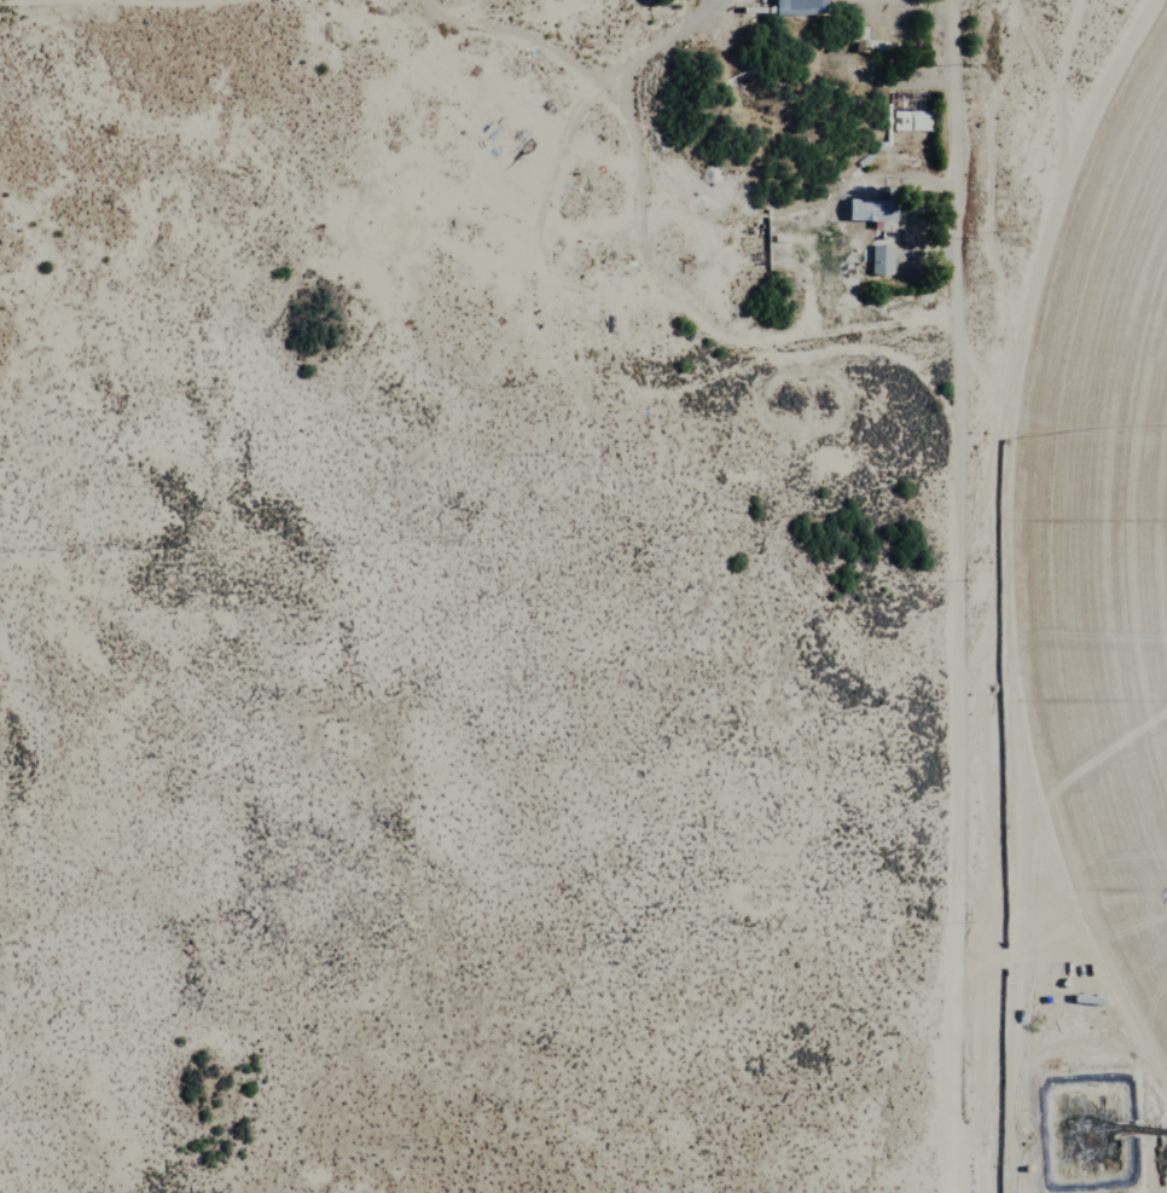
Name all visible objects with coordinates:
building: (797, 6)
building: (875, 209)
building: (883, 259)
crop: (1111, 566)
road: (947, 596)

